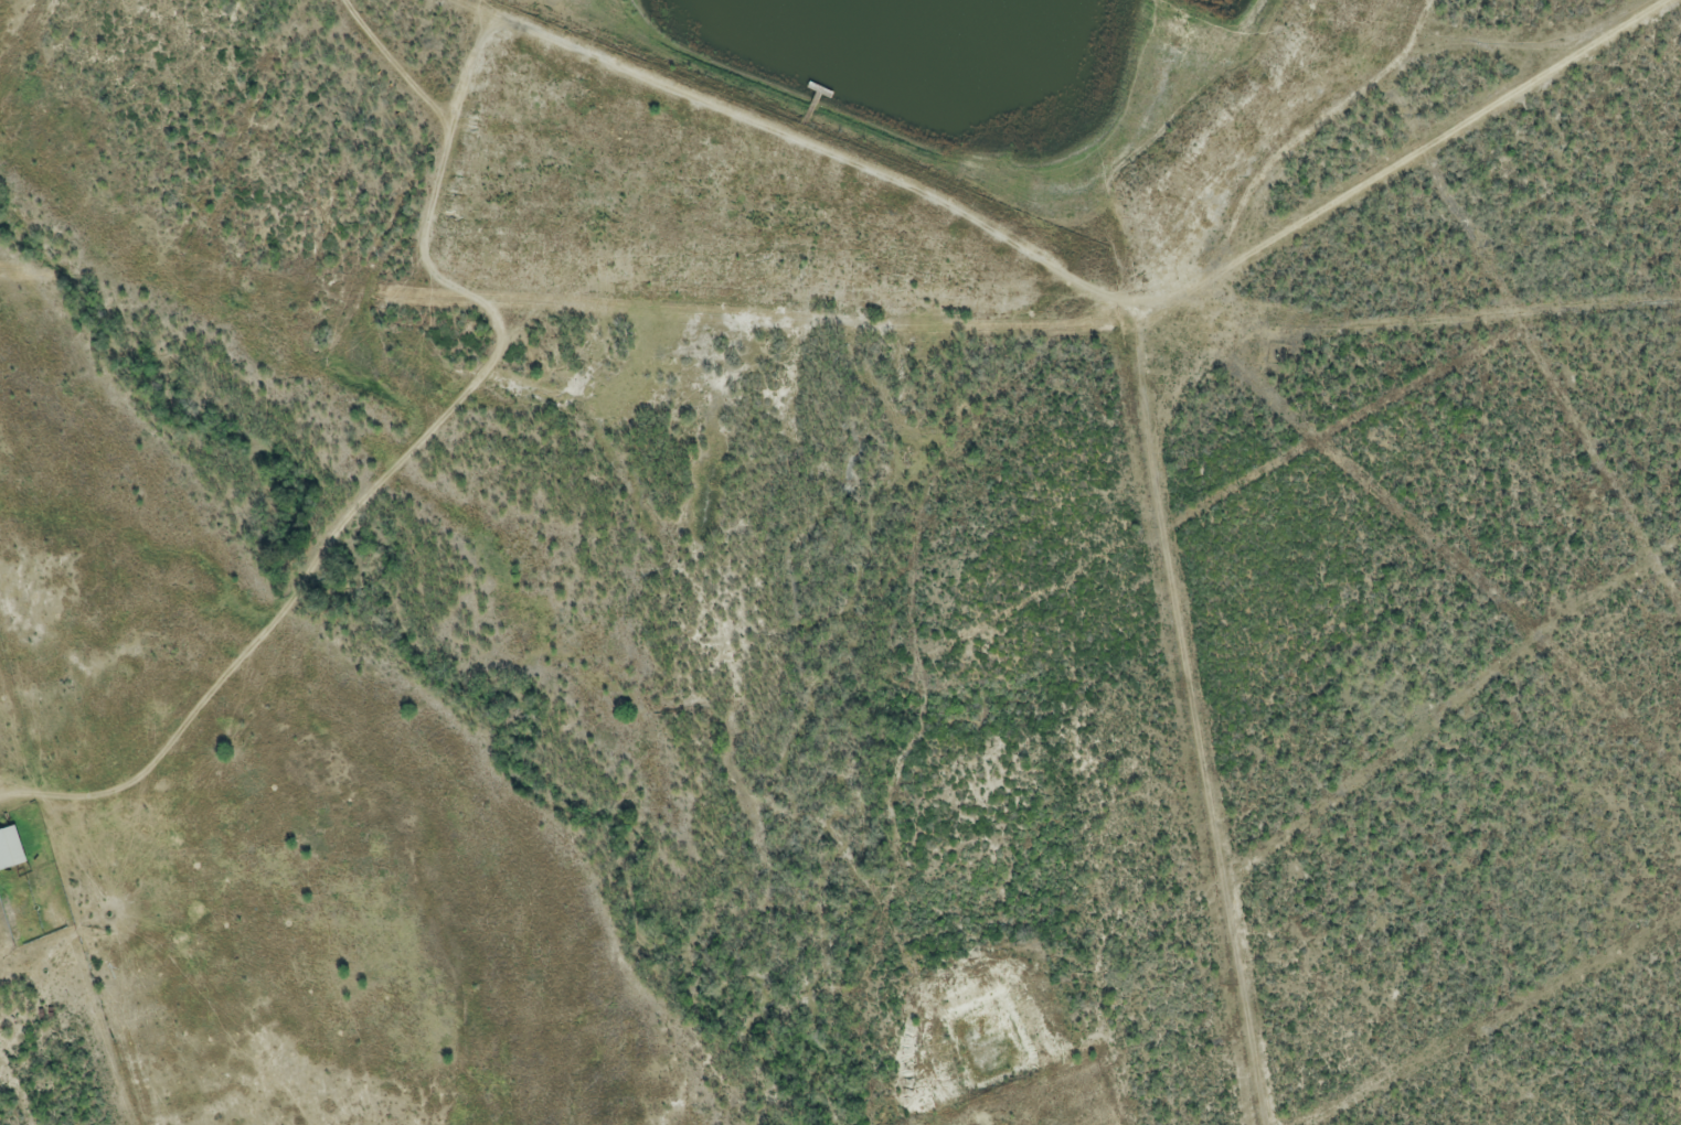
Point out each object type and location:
building: (9, 849)

